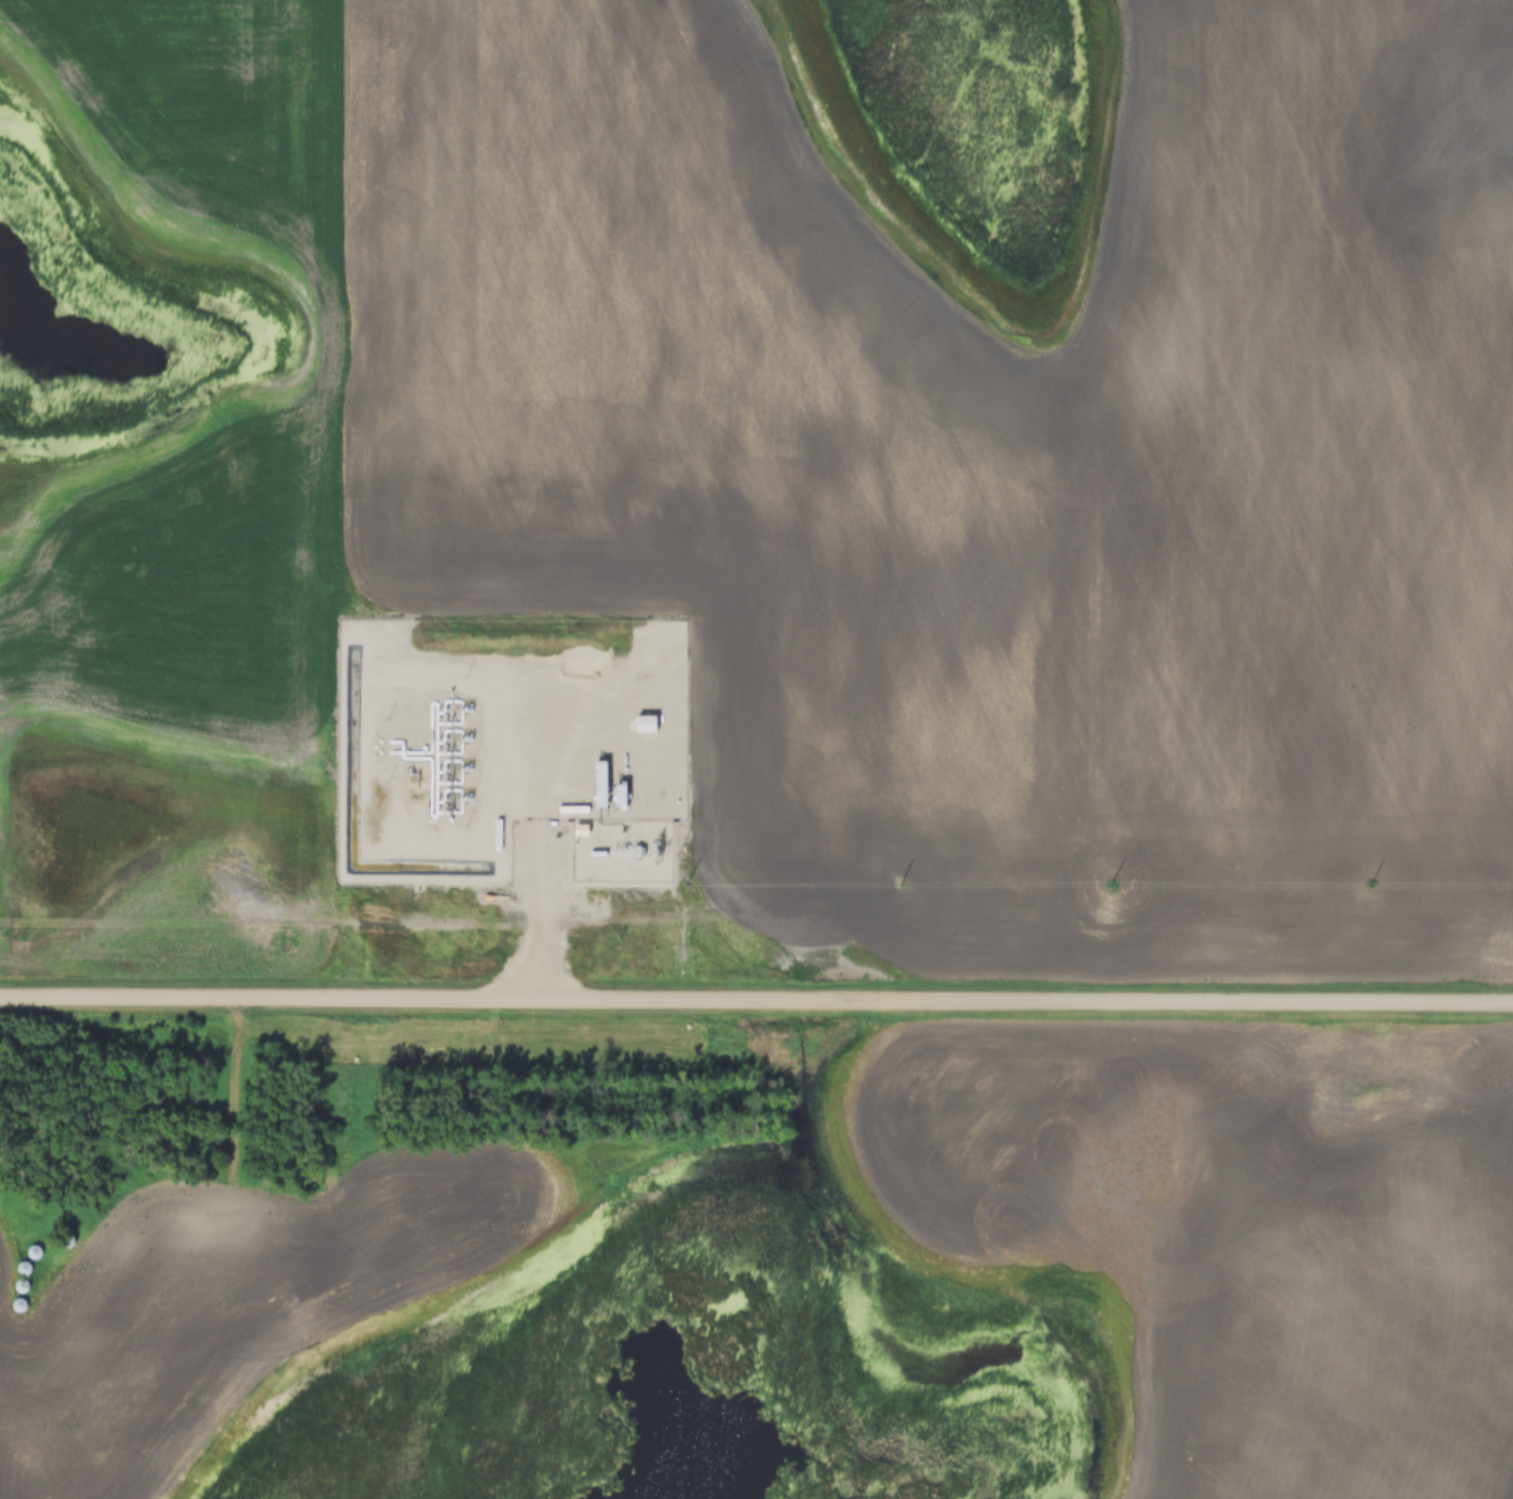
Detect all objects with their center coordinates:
street lamp: (464, 679)
street lamp: (386, 721)
building: (645, 725)
street lamp: (386, 784)
building: (599, 786)
building: (619, 797)
street lamp: (572, 819)
street lamp: (465, 828)
building: (580, 831)
power substation: (621, 855)
road: (538, 938)
road: (756, 1002)
road: (237, 1144)
building: (38, 1251)
silo: (38, 1251)
building: (27, 1267)
silo: (27, 1267)
building: (25, 1284)
silo: (25, 1284)
building: (23, 1303)
silo: (23, 1303)

